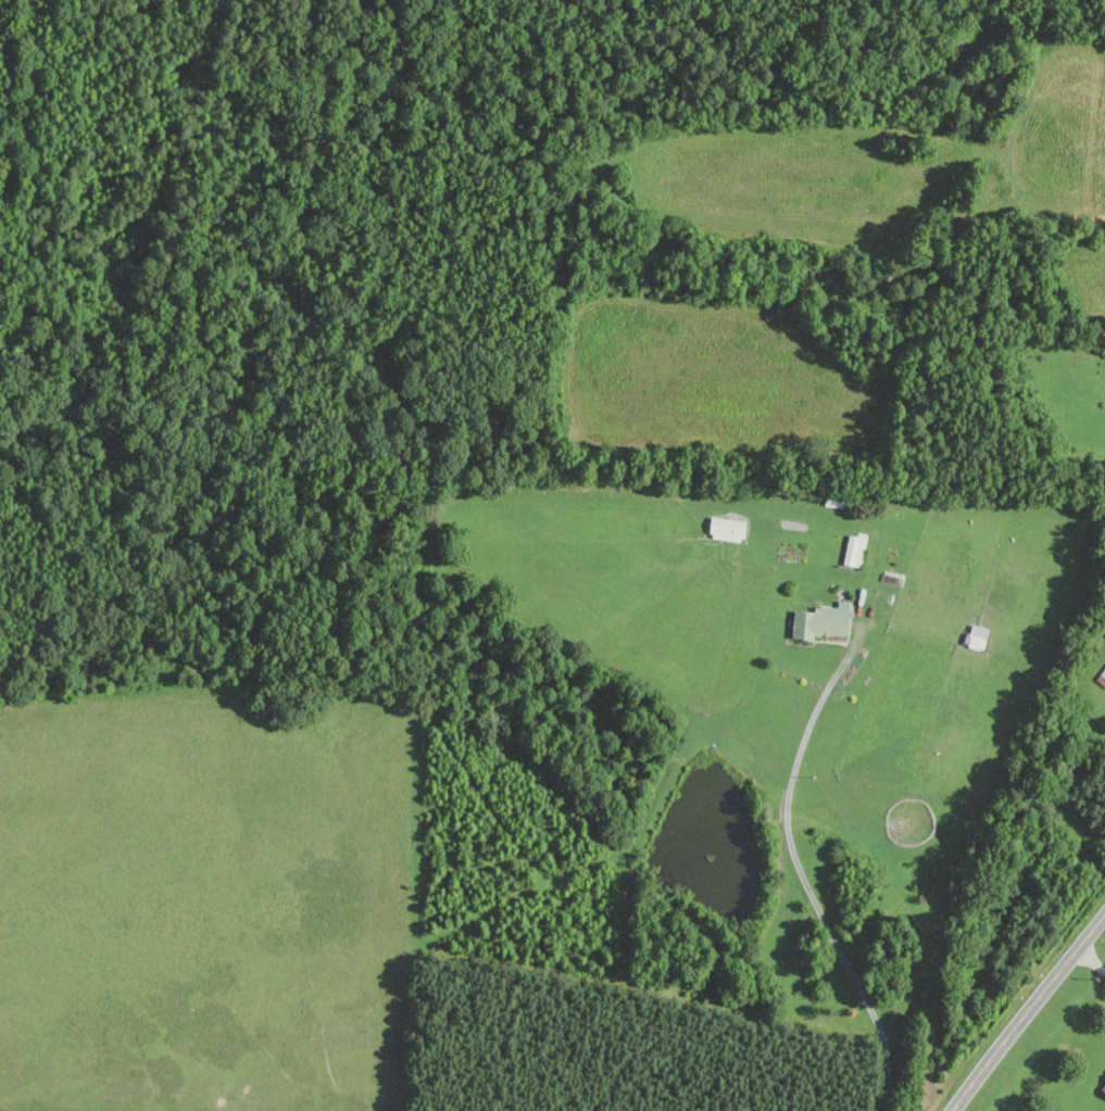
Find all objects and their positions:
building: (725, 529)
building: (852, 550)
building: (818, 621)
building: (976, 637)
building: (1102, 674)
road: (800, 873)
road: (1090, 960)
road: (1027, 1010)
building: (1102, 1086)

